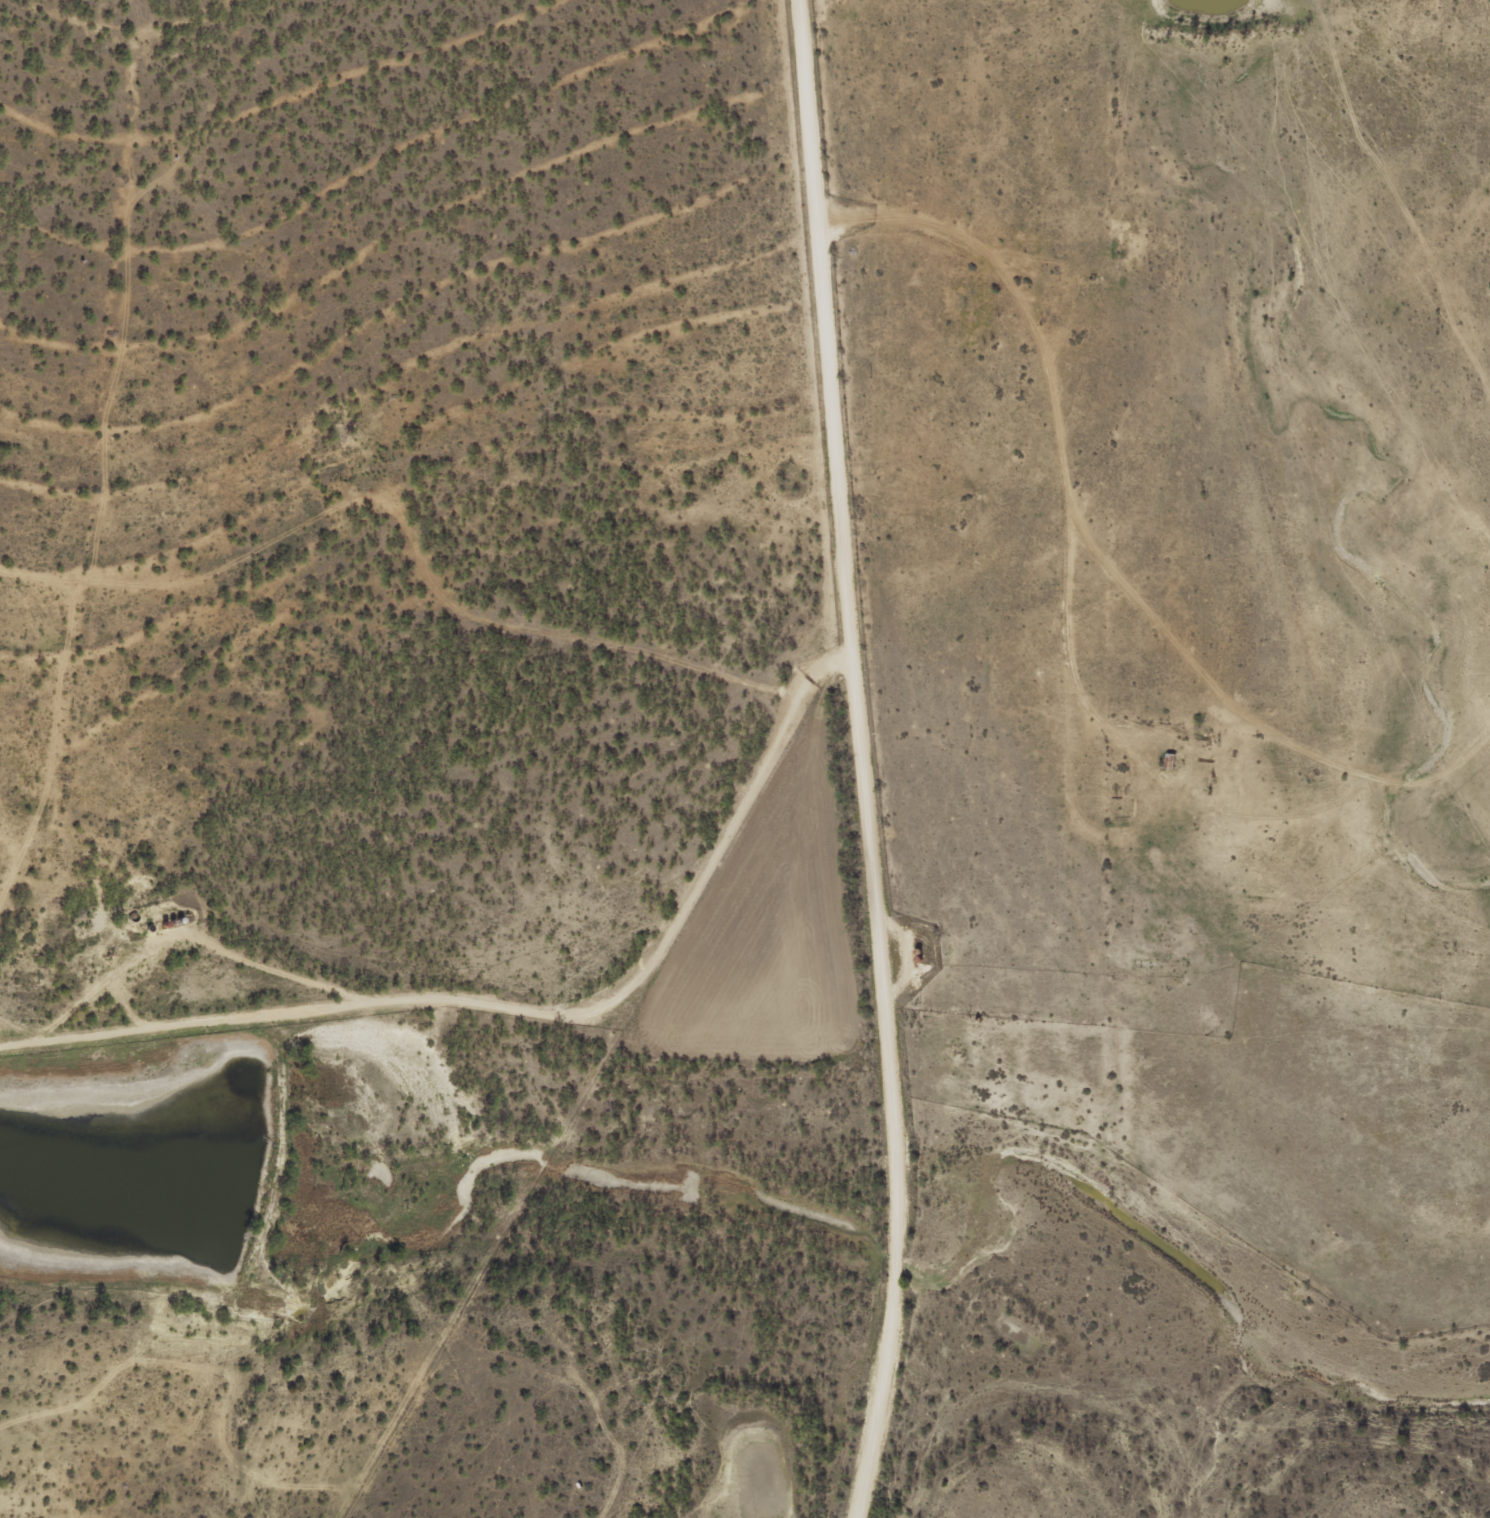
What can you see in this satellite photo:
road: (853, 759)

